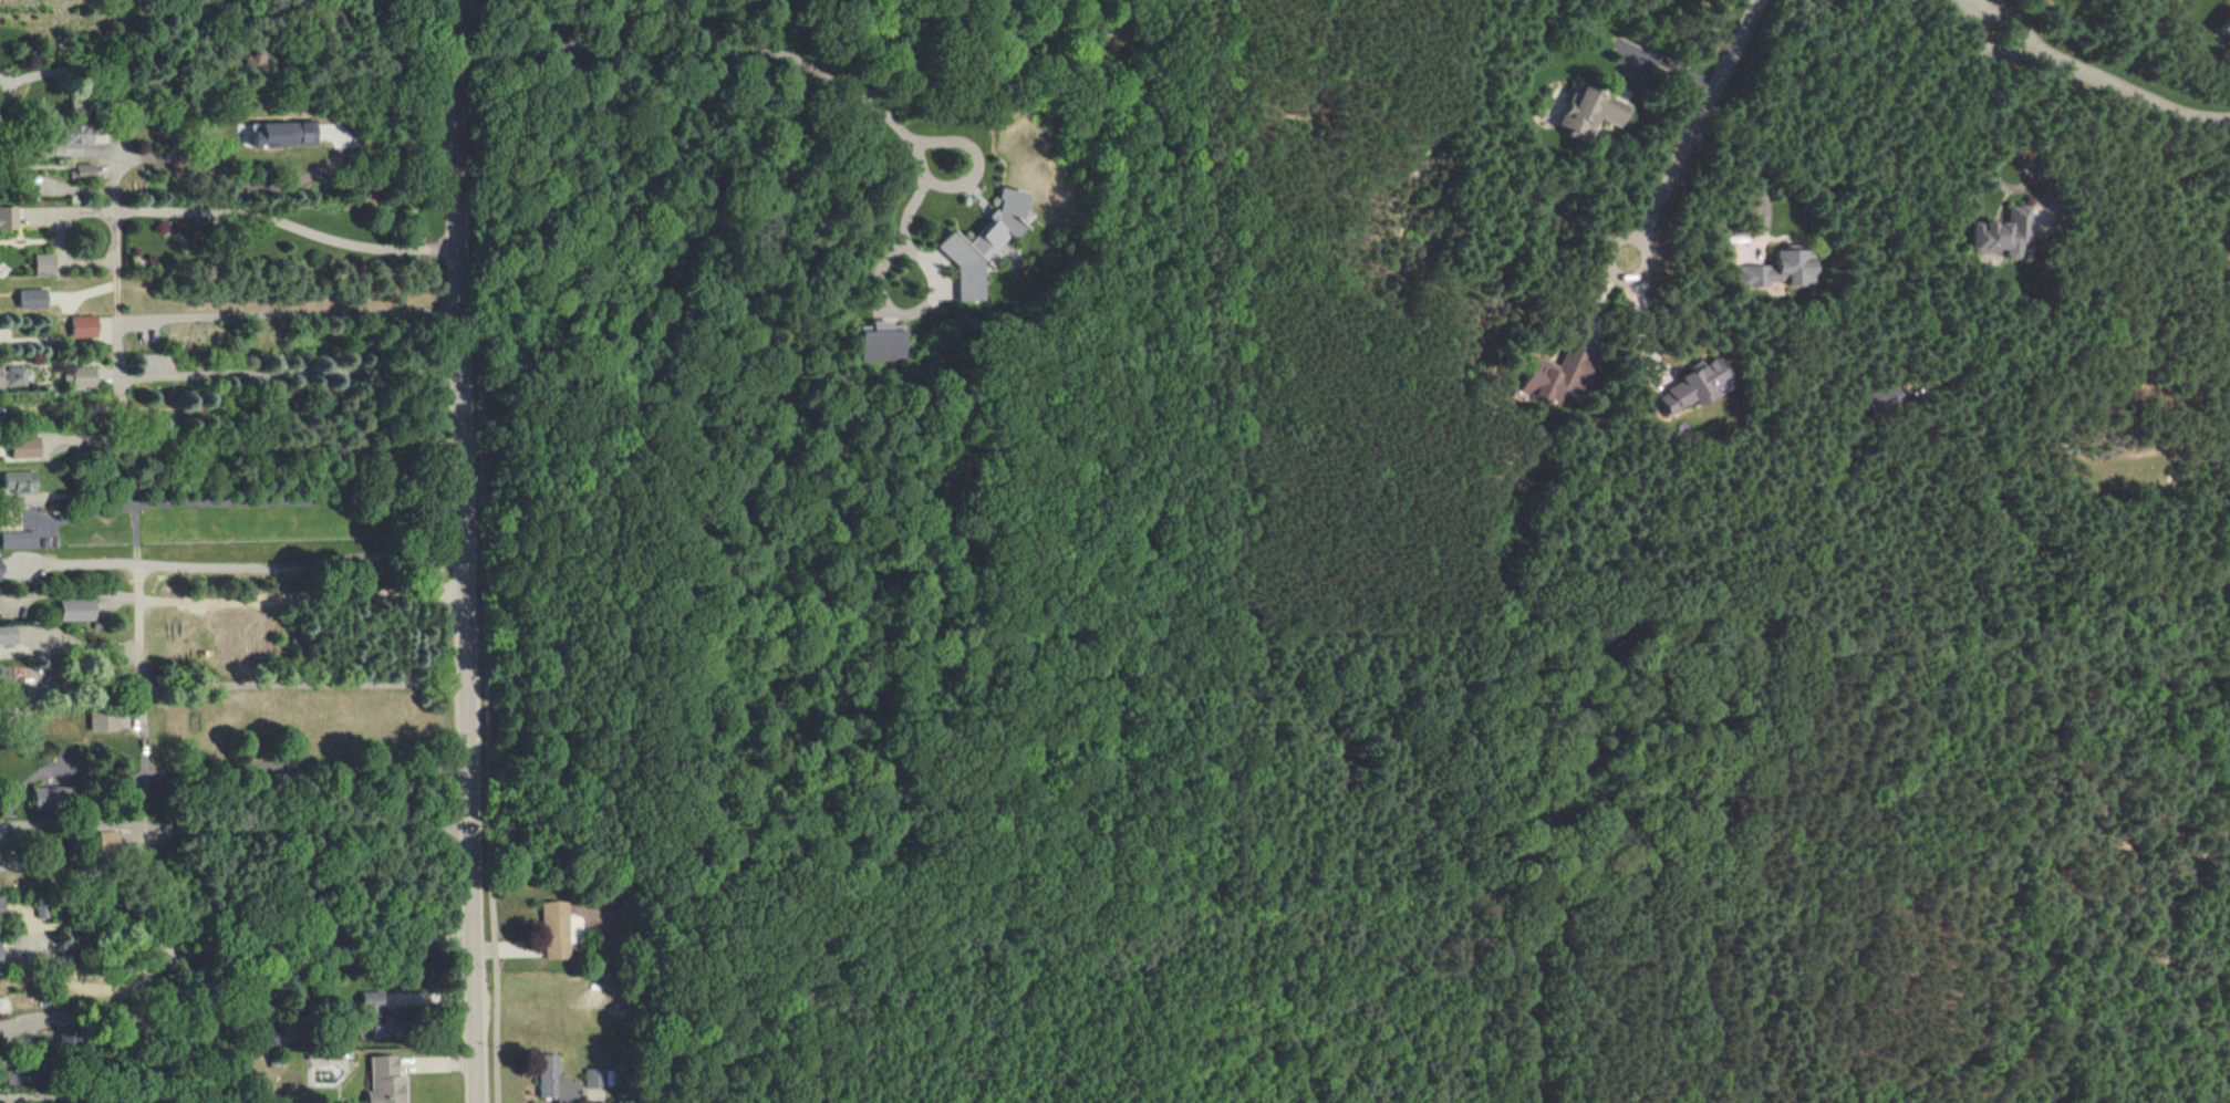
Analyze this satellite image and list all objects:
road: (66, 21)
building: (2227, 35)
road: (787, 53)
road: (227, 66)
road: (2088, 86)
building: (1589, 113)
road: (1699, 117)
building: (284, 134)
building: (76, 135)
road: (60, 149)
road: (2010, 150)
road: (287, 153)
road: (1751, 169)
building: (82, 173)
road: (914, 206)
road: (288, 207)
road: (39, 216)
building: (8, 218)
building: (2008, 231)
road: (61, 239)
building: (985, 243)
building: (43, 264)
building: (1778, 269)
road: (1620, 279)
building: (32, 299)
road: (288, 314)
building: (83, 326)
building: (879, 342)
building: (79, 376)
building: (1554, 376)
building: (1689, 386)
road: (65, 407)
road: (295, 408)
building: (24, 448)
building: (19, 481)
road: (302, 501)
road: (35, 508)
building: (18, 540)
road: (141, 550)
road: (465, 551)
road: (486, 551)
road: (302, 554)
road: (76, 563)
building: (0, 568)
road: (71, 594)
road: (304, 596)
building: (77, 610)
building: (8, 635)
road: (72, 644)
road: (73, 686)
road: (308, 687)
road: (74, 706)
building: (103, 720)
road: (309, 769)
road: (80, 777)
building: (46, 797)
road: (74, 821)
road: (311, 829)
building: (108, 840)
road: (74, 863)
building: (556, 929)
road: (80, 945)
road: (314, 948)
building: (0, 955)
road: (84, 960)
building: (374, 1001)
road: (20, 1037)
building: (386, 1081)
building: (557, 1081)
road: (77, 1096)

